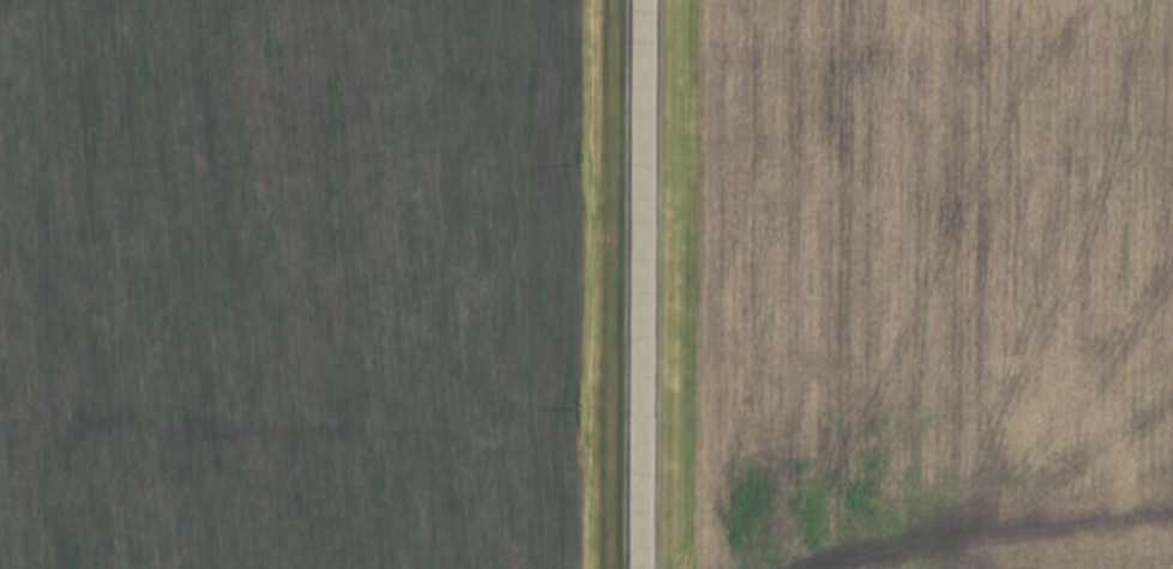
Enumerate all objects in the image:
road: (643, 284)

